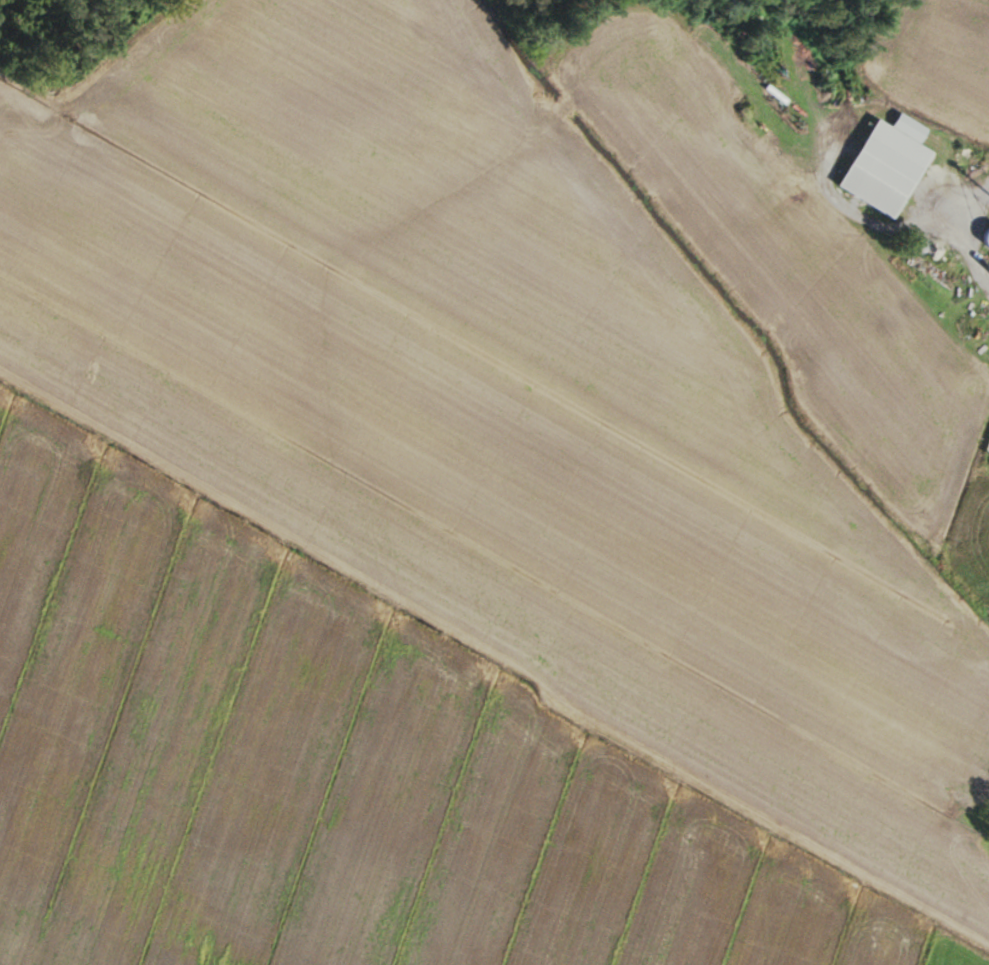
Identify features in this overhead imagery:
building: (888, 170)

